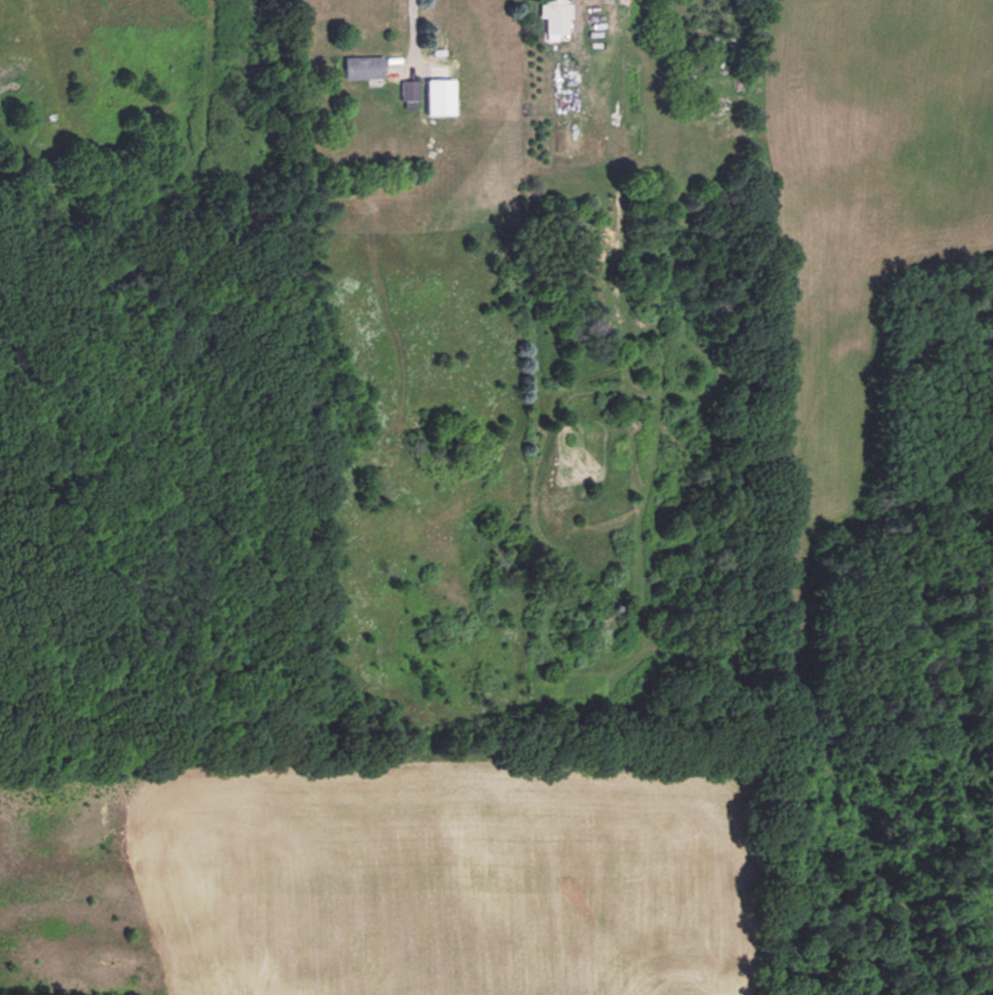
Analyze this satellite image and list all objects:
building: (598, 0)
road: (602, 7)
road: (407, 27)
building: (363, 66)

